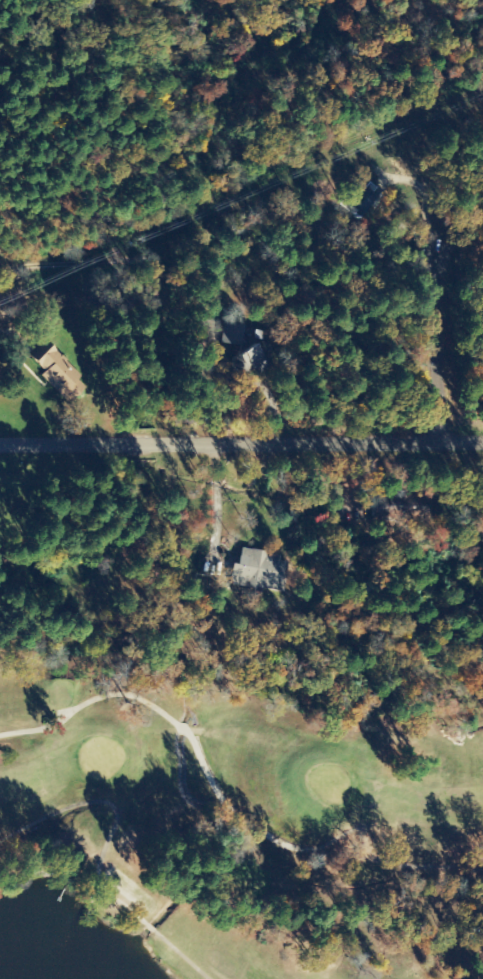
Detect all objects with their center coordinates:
road: (442, 348)
building: (251, 361)
building: (57, 373)
road: (241, 446)
building: (259, 571)
park: (241, 800)

